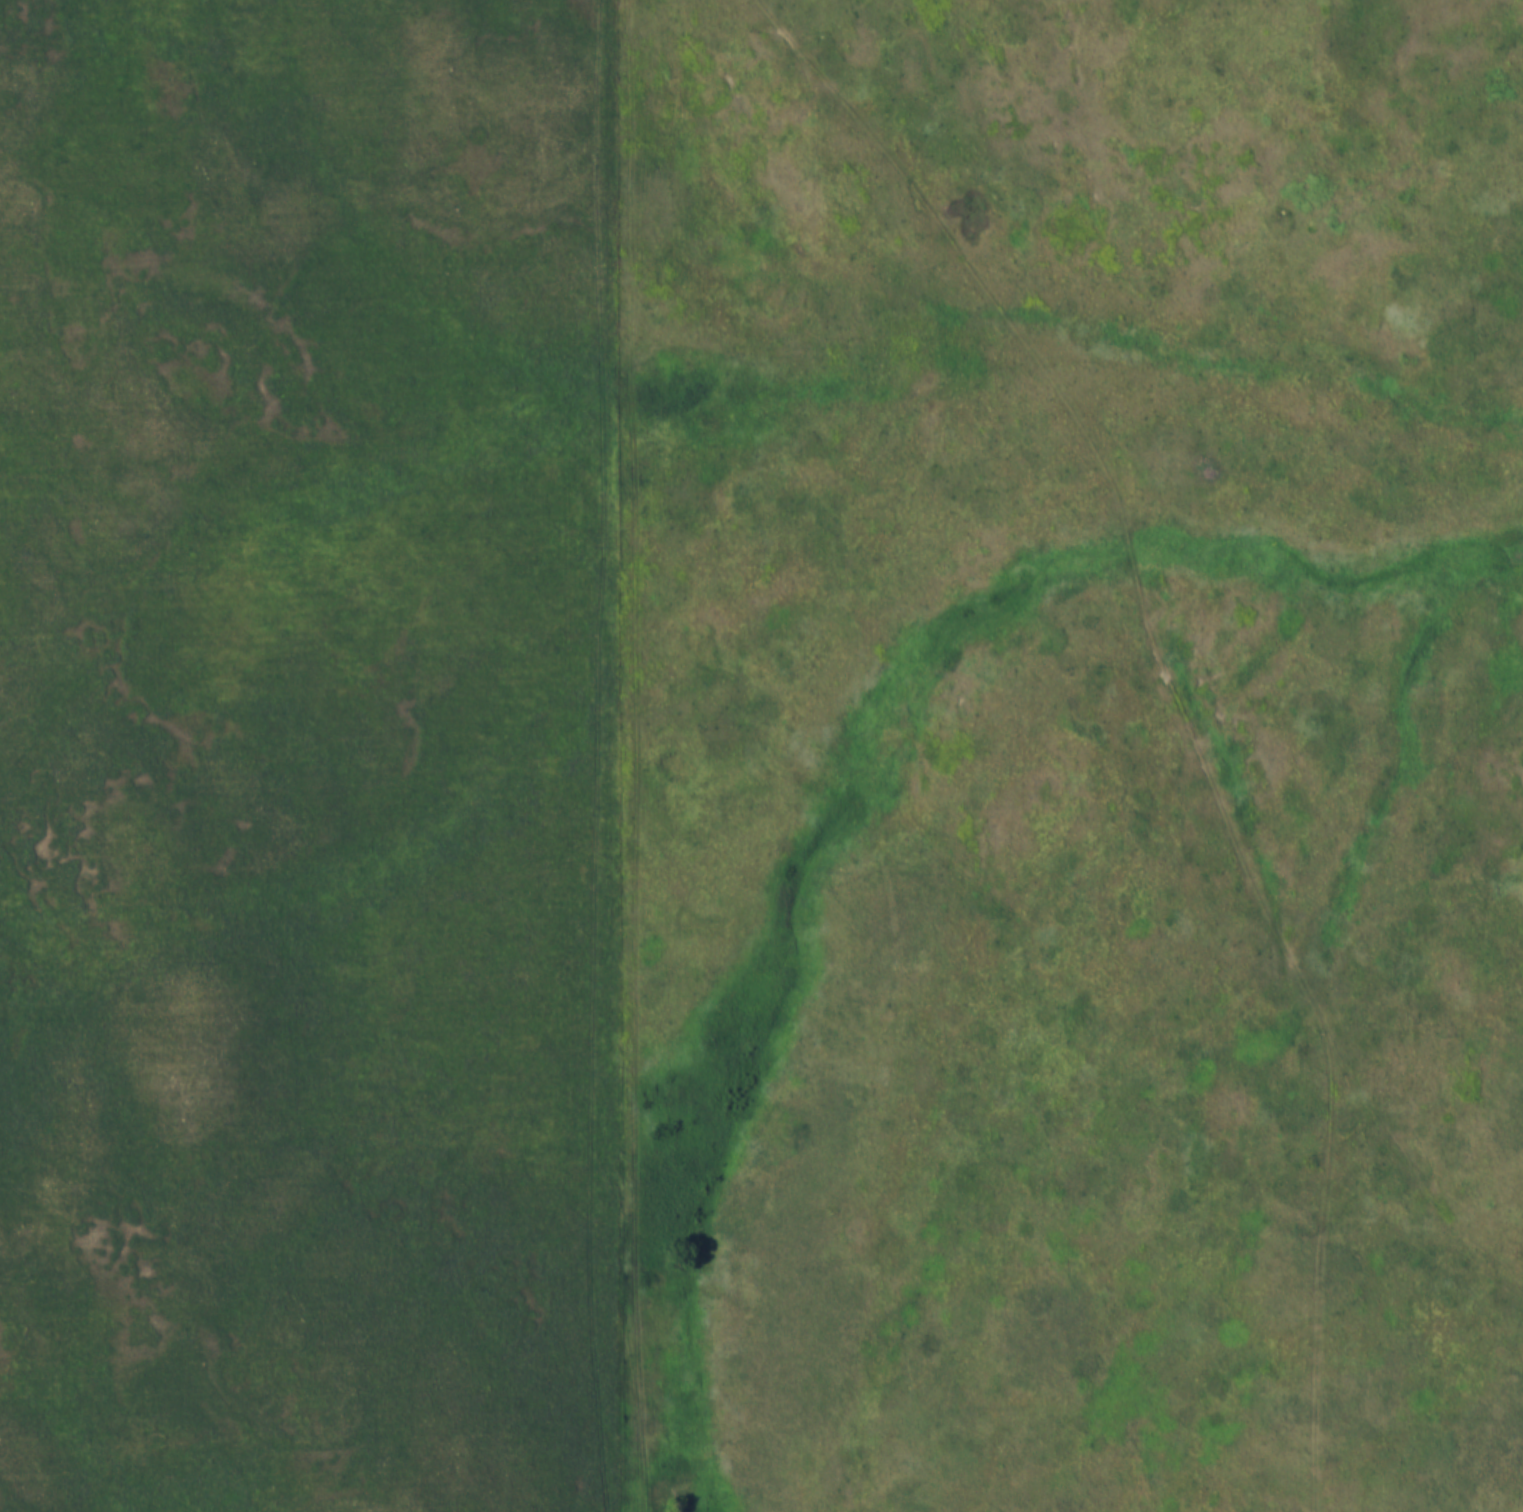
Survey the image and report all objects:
road: (637, 755)

